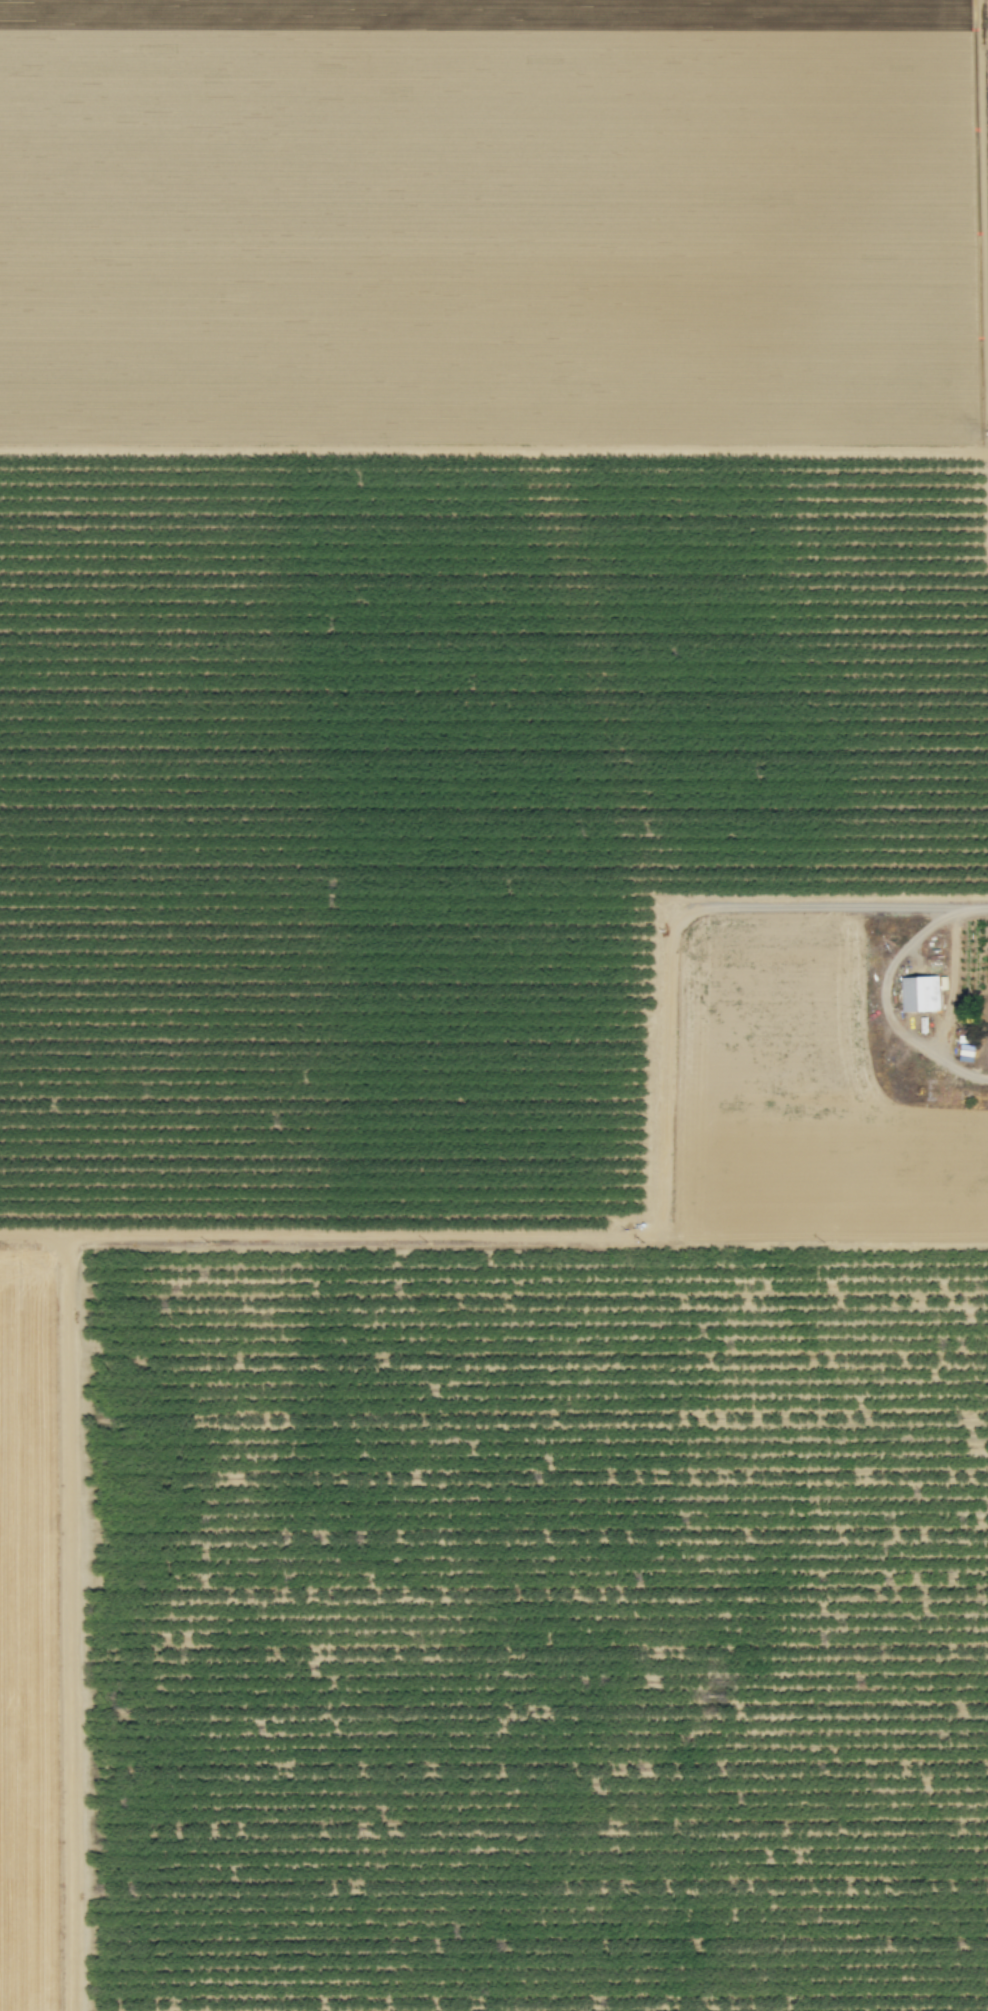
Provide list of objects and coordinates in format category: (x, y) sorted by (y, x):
road: (883, 992)
building: (921, 995)

